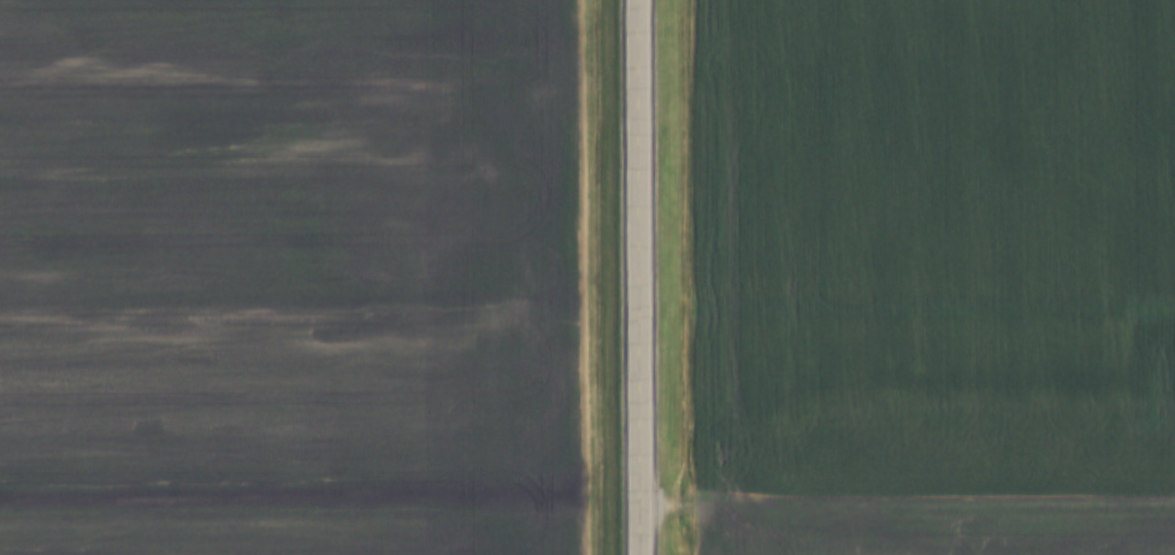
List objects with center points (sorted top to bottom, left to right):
road: (645, 277)

